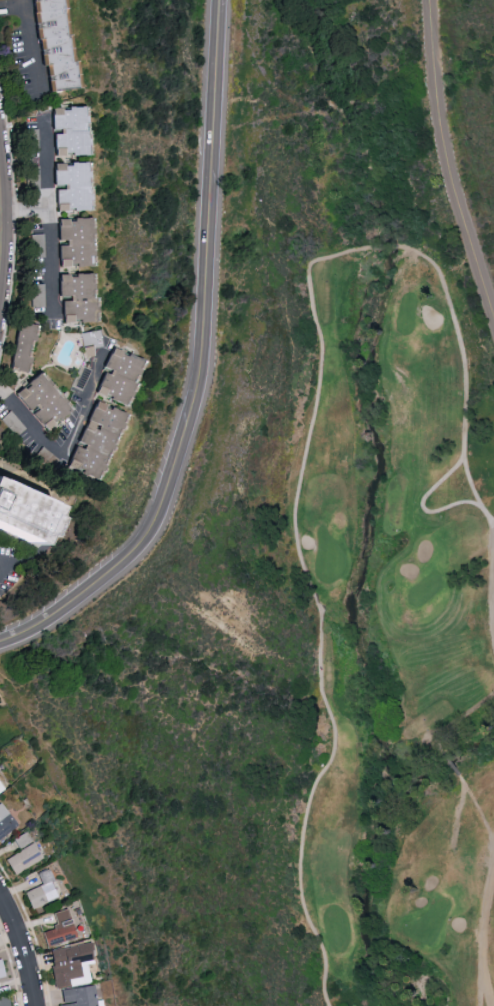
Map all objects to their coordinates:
road: (12, 6)
road: (29, 47)
building: (50, 47)
building: (31, 140)
building: (59, 185)
road: (22, 214)
road: (44, 218)
road: (0, 237)
building: (69, 242)
building: (37, 245)
building: (37, 295)
building: (73, 297)
park: (406, 314)
building: (89, 341)
building: (20, 345)
road: (201, 366)
building: (114, 376)
building: (39, 401)
road: (314, 404)
building: (92, 440)
road: (57, 455)
road: (470, 482)
park: (290, 513)
building: (16, 530)
park: (328, 557)
park: (424, 590)
park: (385, 628)
building: (0, 789)
road: (487, 820)
building: (5, 821)
building: (22, 854)
building: (40, 890)
park: (429, 921)
park: (336, 926)
building: (57, 928)
road: (25, 947)
building: (69, 964)
building: (1, 971)
building: (77, 997)
building: (4, 1001)

